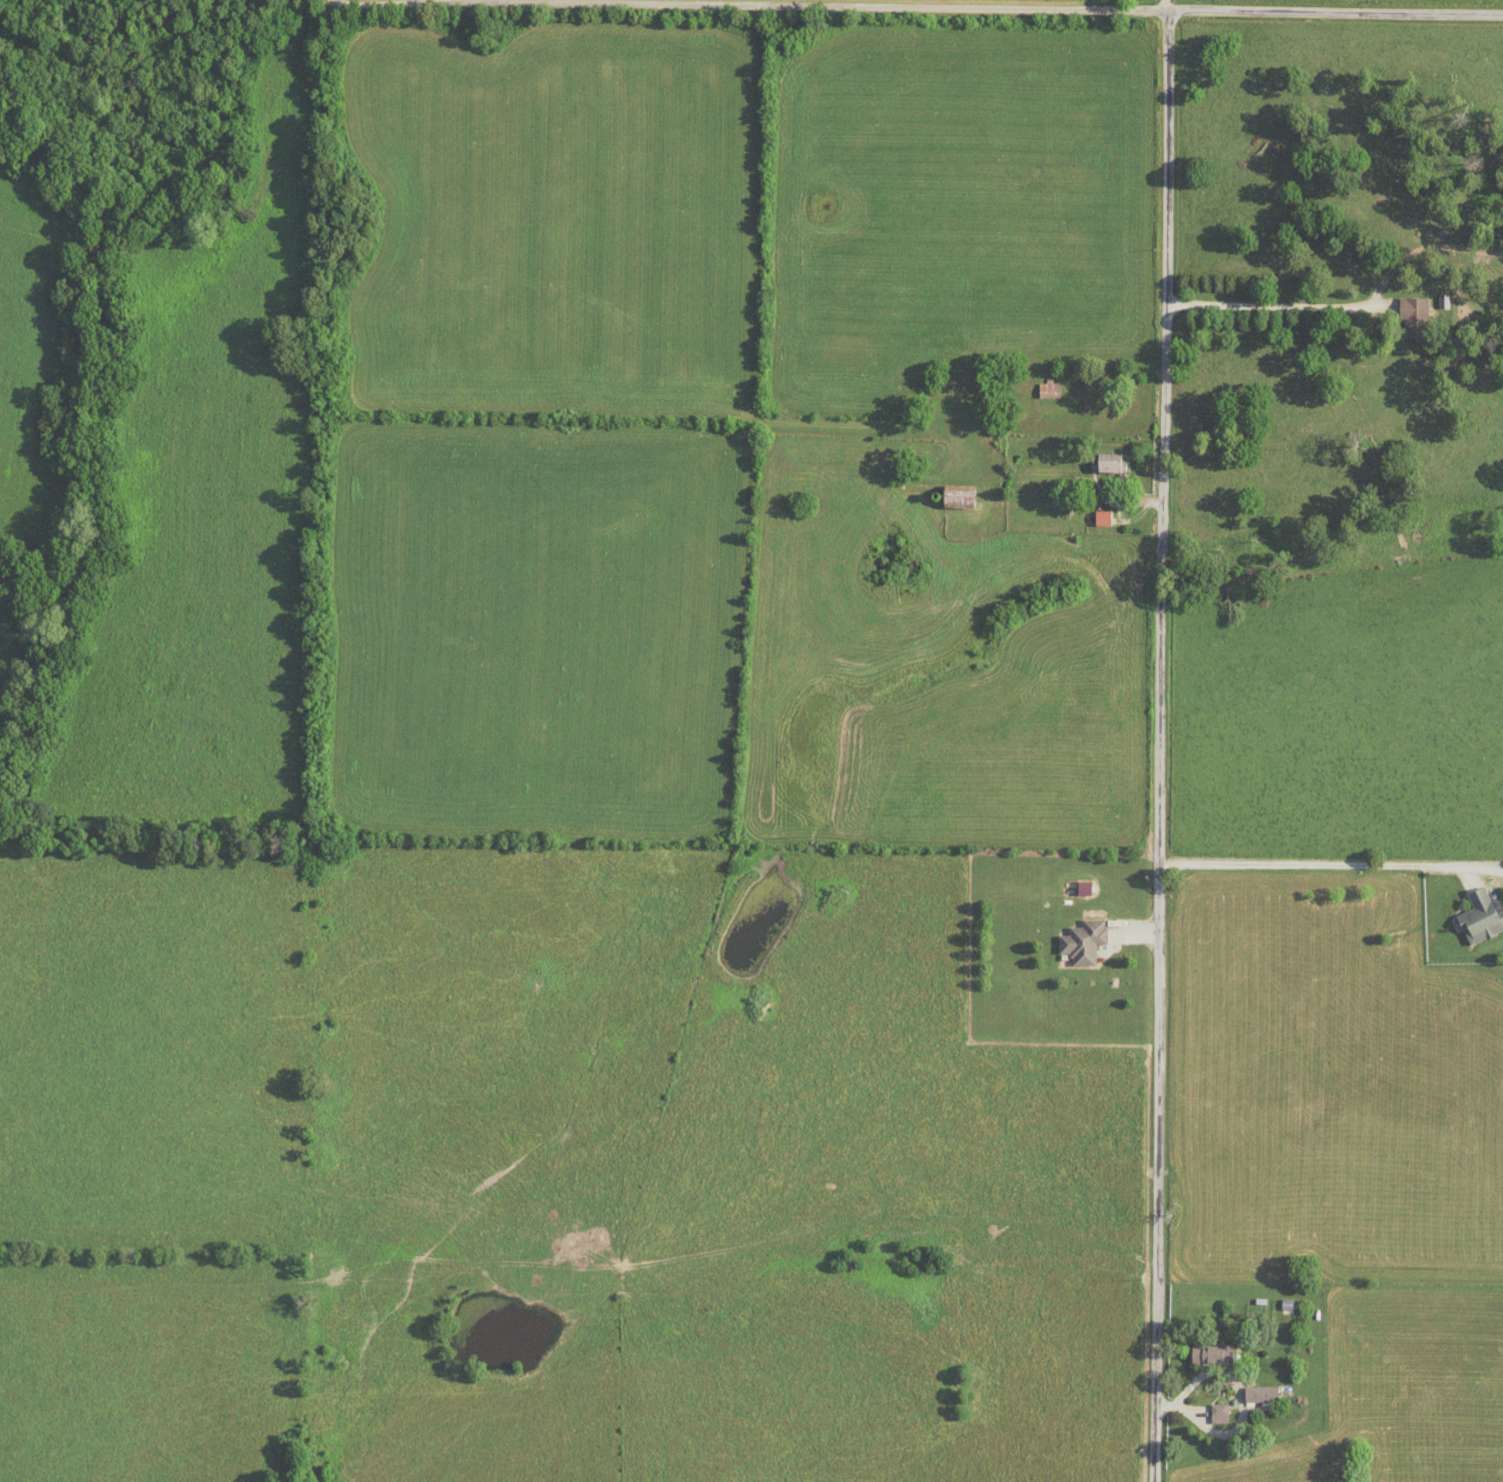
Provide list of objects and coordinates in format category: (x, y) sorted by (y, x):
road: (368, 0)
road: (1166, 5)
road: (1022, 7)
road: (1284, 309)
building: (1412, 317)
building: (1047, 390)
building: (1106, 464)
building: (957, 497)
building: (1101, 518)
road: (1165, 746)
road: (1319, 868)
building: (1479, 919)
building: (1083, 942)
building: (1210, 1354)
building: (1260, 1394)
building: (1218, 1414)

